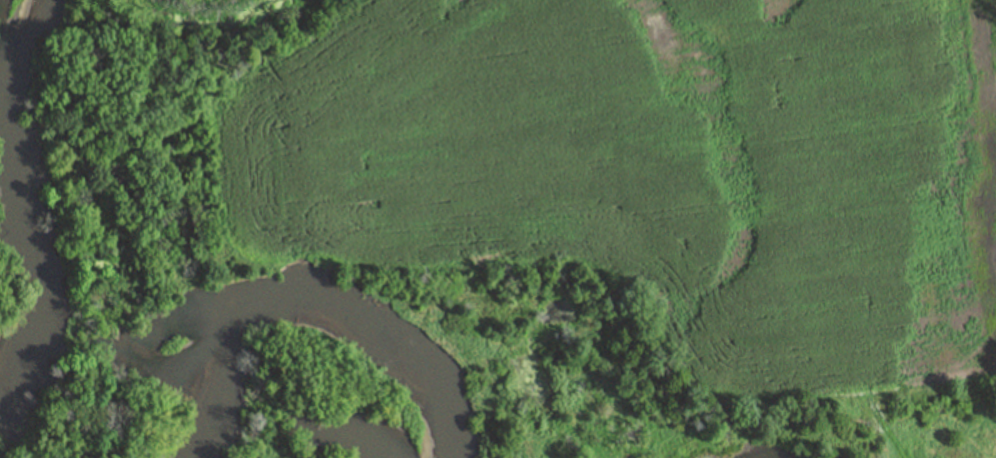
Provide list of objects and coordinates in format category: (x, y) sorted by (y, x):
river: (23, 190)
river: (302, 322)
road: (885, 429)
river: (1, 455)

